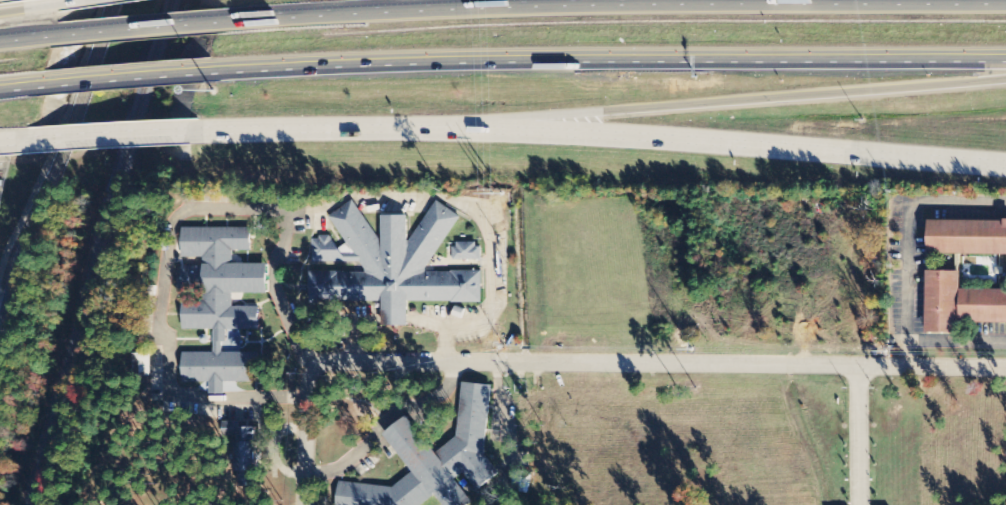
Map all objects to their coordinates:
road: (73, 1)
road: (610, 5)
road: (33, 7)
road: (138, 28)
road: (30, 39)
road: (603, 56)
road: (123, 77)
road: (22, 85)
street lamp: (213, 95)
road: (721, 105)
street lamp: (863, 120)
road: (598, 132)
road: (114, 135)
road: (19, 140)
road: (50, 149)
road: (475, 211)
road: (905, 235)
building: (967, 237)
building: (324, 250)
railway: (90, 252)
building: (468, 252)
building: (395, 267)
road: (280, 288)
building: (221, 304)
building: (960, 304)
road: (160, 317)
road: (955, 341)
building: (144, 364)
road: (658, 365)
building: (241, 432)
road: (304, 435)
road: (860, 436)
building: (436, 461)
building: (248, 464)
building: (521, 483)

